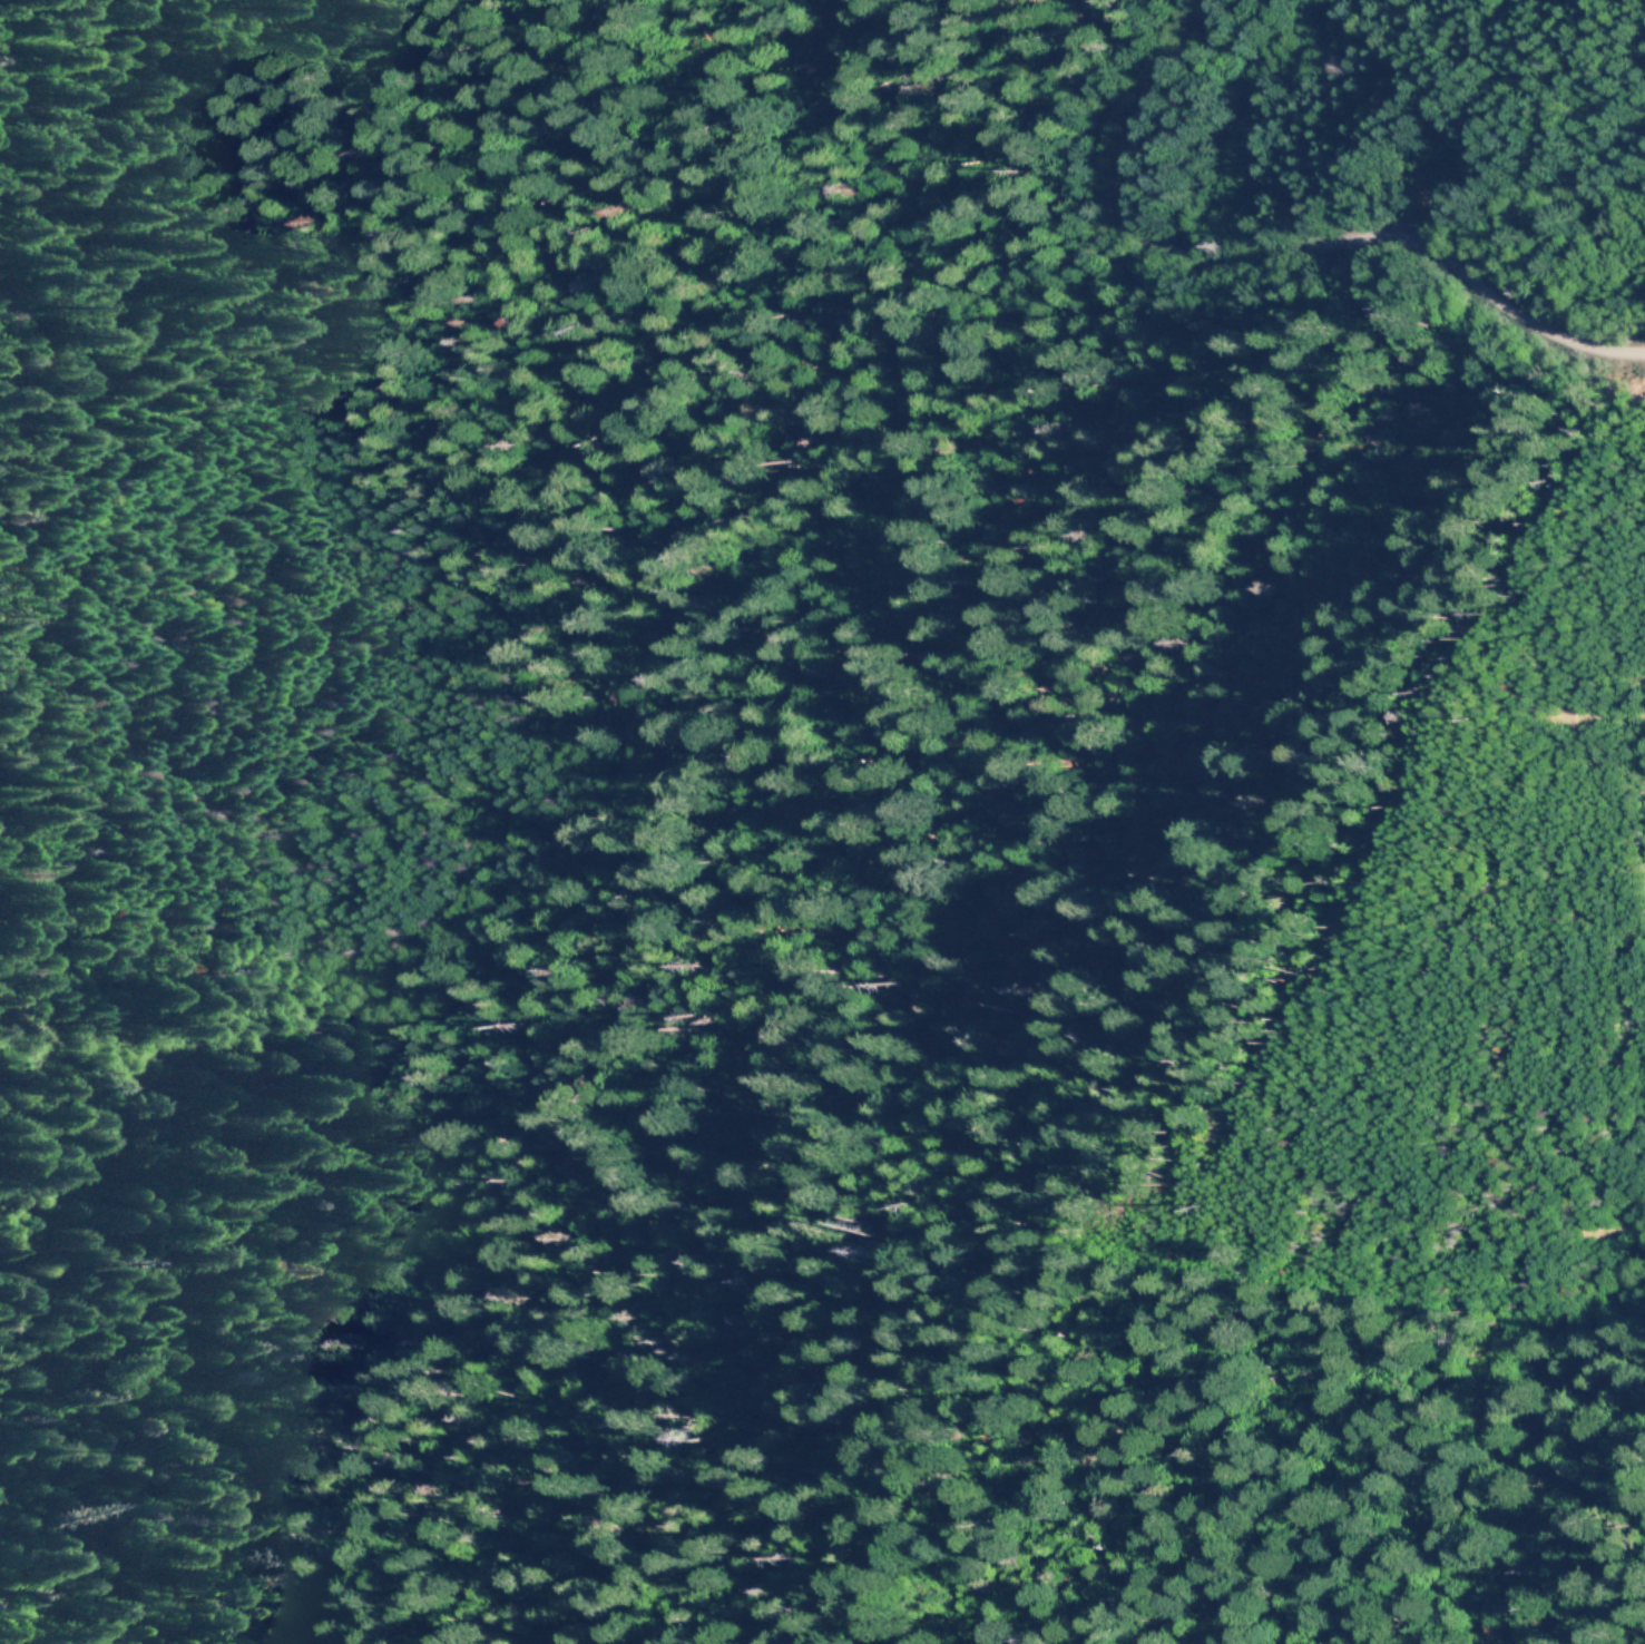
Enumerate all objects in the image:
road: (1328, 186)
road: (1608, 655)

